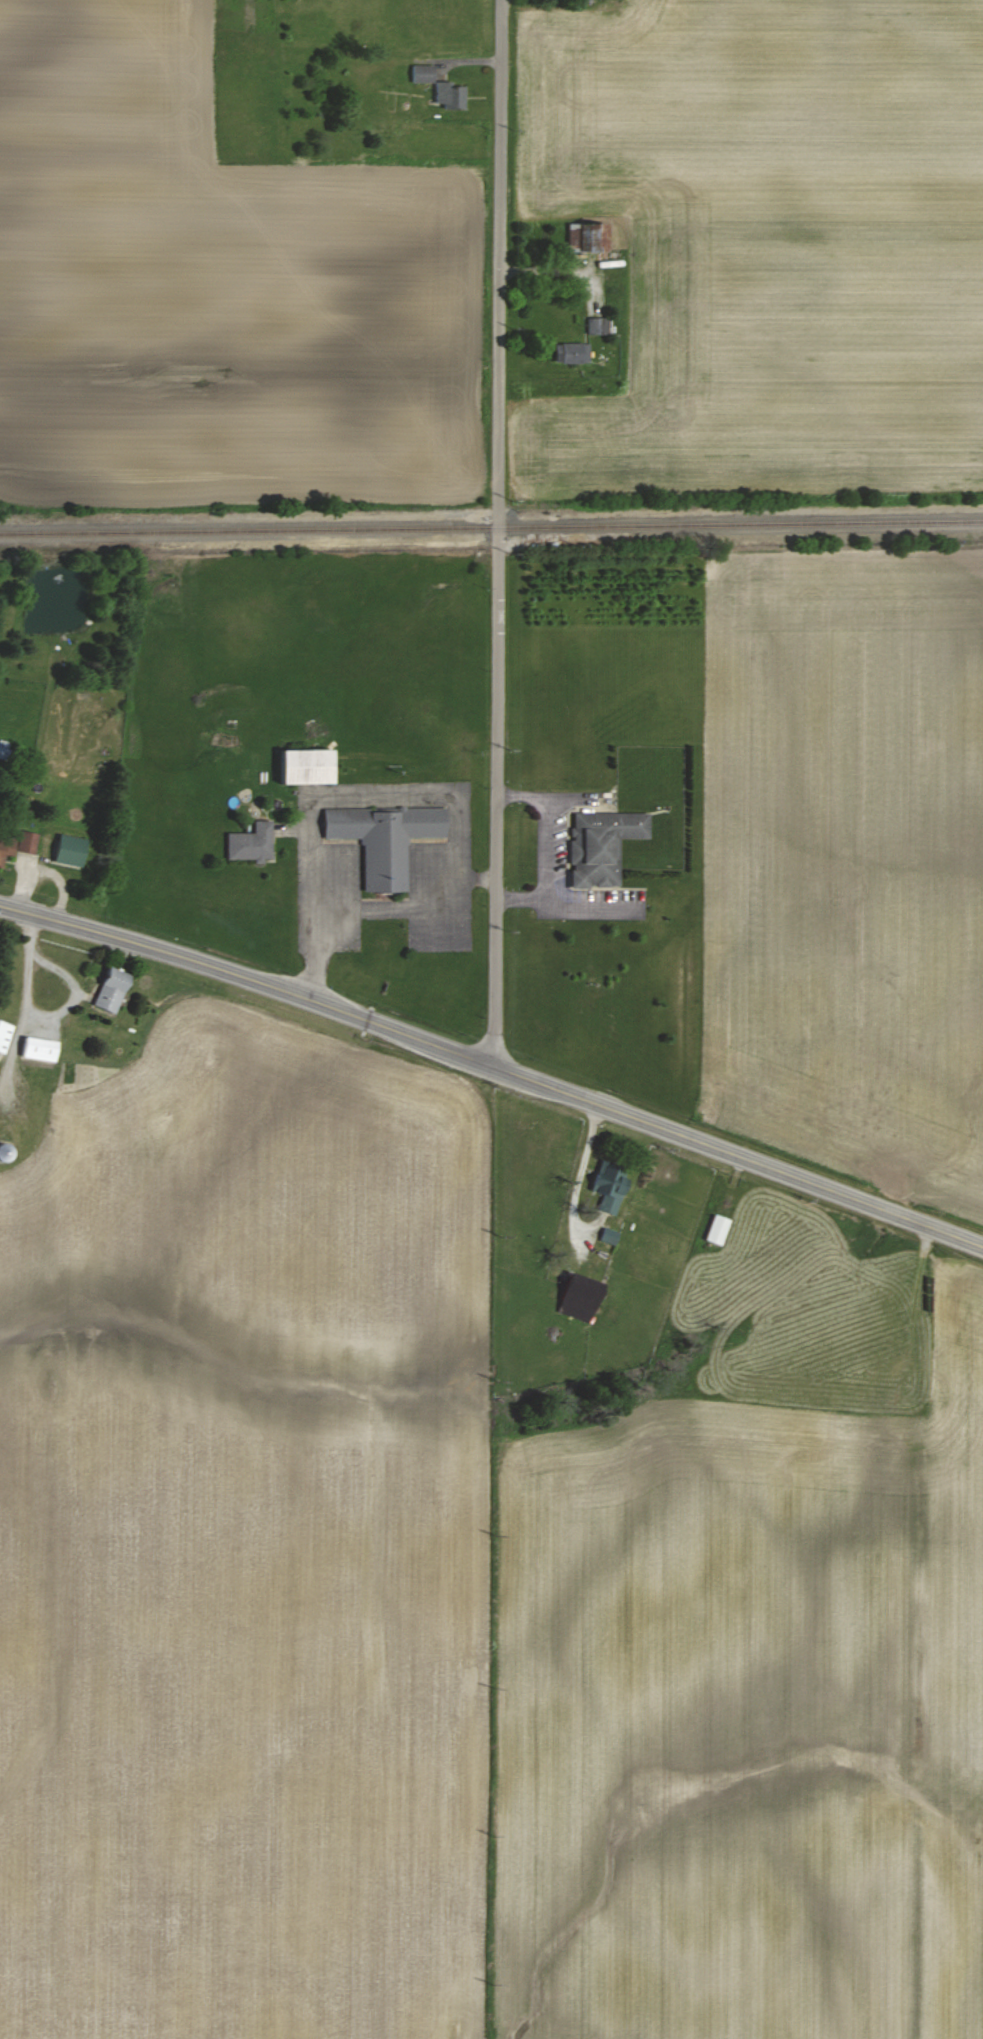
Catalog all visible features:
building: (422, 73)
building: (448, 94)
building: (590, 236)
building: (568, 351)
railway: (491, 528)
road: (498, 533)
building: (304, 766)
road: (335, 793)
road: (526, 795)
building: (383, 840)
building: (26, 842)
building: (250, 843)
building: (601, 846)
building: (68, 850)
road: (543, 857)
road: (396, 908)
road: (566, 910)
building: (110, 989)
building: (4, 1036)
building: (37, 1049)
road: (494, 1066)
building: (607, 1190)
building: (715, 1229)
building: (607, 1236)
building: (578, 1296)

